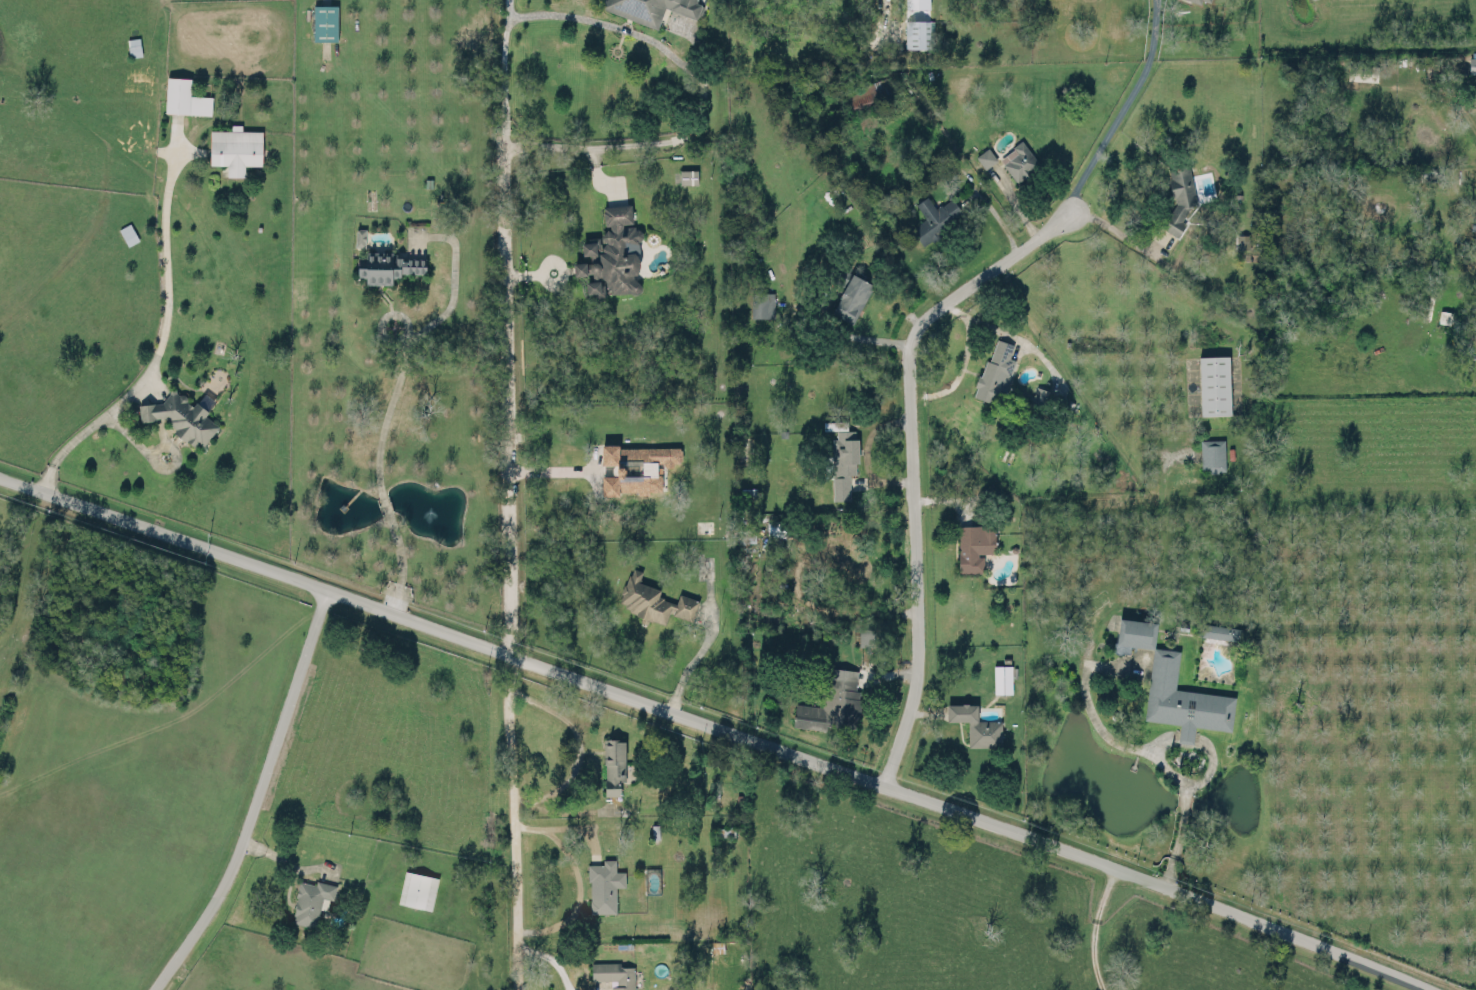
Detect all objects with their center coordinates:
building: (1197, 0)
building: (1209, 0)
building: (916, 3)
building: (650, 8)
building: (324, 21)
road: (883, 29)
building: (917, 32)
building: (134, 49)
building: (1472, 63)
building: (1362, 71)
building: (177, 93)
building: (867, 93)
road: (702, 94)
road: (1112, 107)
building: (235, 148)
building: (985, 156)
building: (1019, 160)
building: (688, 175)
road: (980, 189)
building: (1178, 197)
building: (934, 217)
road: (1118, 230)
building: (1473, 231)
building: (128, 232)
building: (359, 235)
building: (611, 253)
building: (386, 265)
building: (851, 297)
building: (762, 303)
building: (1443, 315)
road: (506, 325)
road: (987, 325)
road: (158, 346)
building: (995, 370)
building: (1213, 384)
building: (1046, 398)
road: (387, 407)
building: (180, 416)
road: (865, 452)
building: (1212, 454)
building: (843, 460)
road: (909, 461)
building: (637, 465)
road: (553, 469)
road: (383, 503)
building: (773, 525)
building: (746, 530)
building: (974, 545)
road: (398, 560)
building: (652, 598)
building: (1220, 630)
building: (866, 635)
road: (690, 661)
building: (1002, 677)
building: (1172, 685)
building: (832, 700)
building: (975, 722)
road: (716, 725)
road: (577, 745)
building: (614, 761)
road: (255, 797)
road: (560, 810)
road: (512, 820)
road: (575, 879)
building: (603, 885)
building: (417, 889)
building: (310, 900)
road: (1094, 928)
building: (614, 973)

